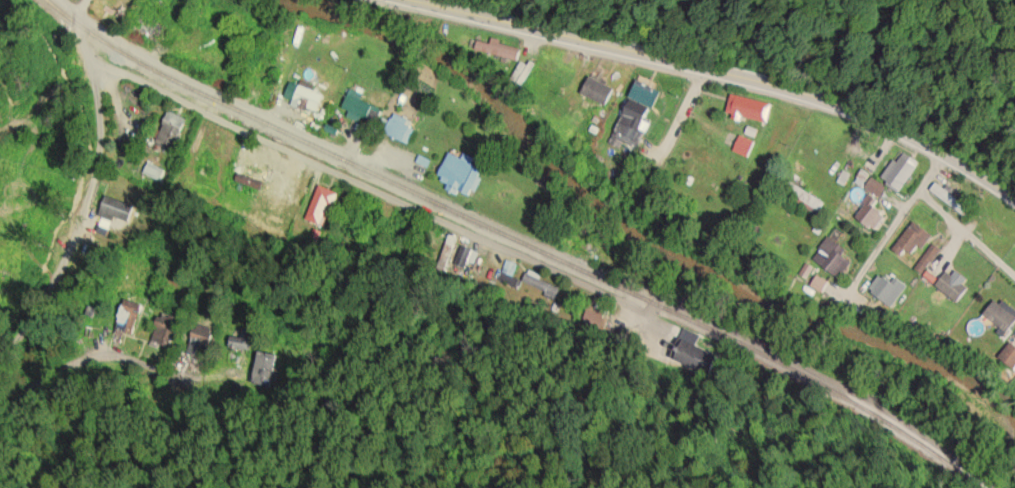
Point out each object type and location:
road: (77, 10)
building: (497, 48)
road: (726, 75)
building: (596, 90)
road: (391, 93)
building: (302, 96)
building: (359, 107)
building: (746, 107)
building: (631, 123)
building: (398, 128)
building: (168, 130)
building: (742, 145)
building: (899, 169)
building: (459, 173)
road: (88, 184)
building: (874, 186)
river: (653, 196)
building: (948, 197)
building: (807, 200)
building: (319, 204)
building: (116, 208)
building: (868, 212)
road: (895, 221)
road: (967, 231)
building: (911, 238)
railway: (523, 243)
building: (580, 243)
road: (516, 252)
building: (831, 257)
building: (926, 258)
building: (459, 260)
building: (508, 266)
building: (507, 279)
building: (534, 281)
building: (953, 285)
building: (887, 289)
building: (127, 316)
building: (999, 316)
building: (594, 317)
building: (162, 330)
building: (198, 340)
building: (241, 340)
building: (692, 352)
building: (1008, 354)
building: (263, 368)
quarry: (856, 372)

